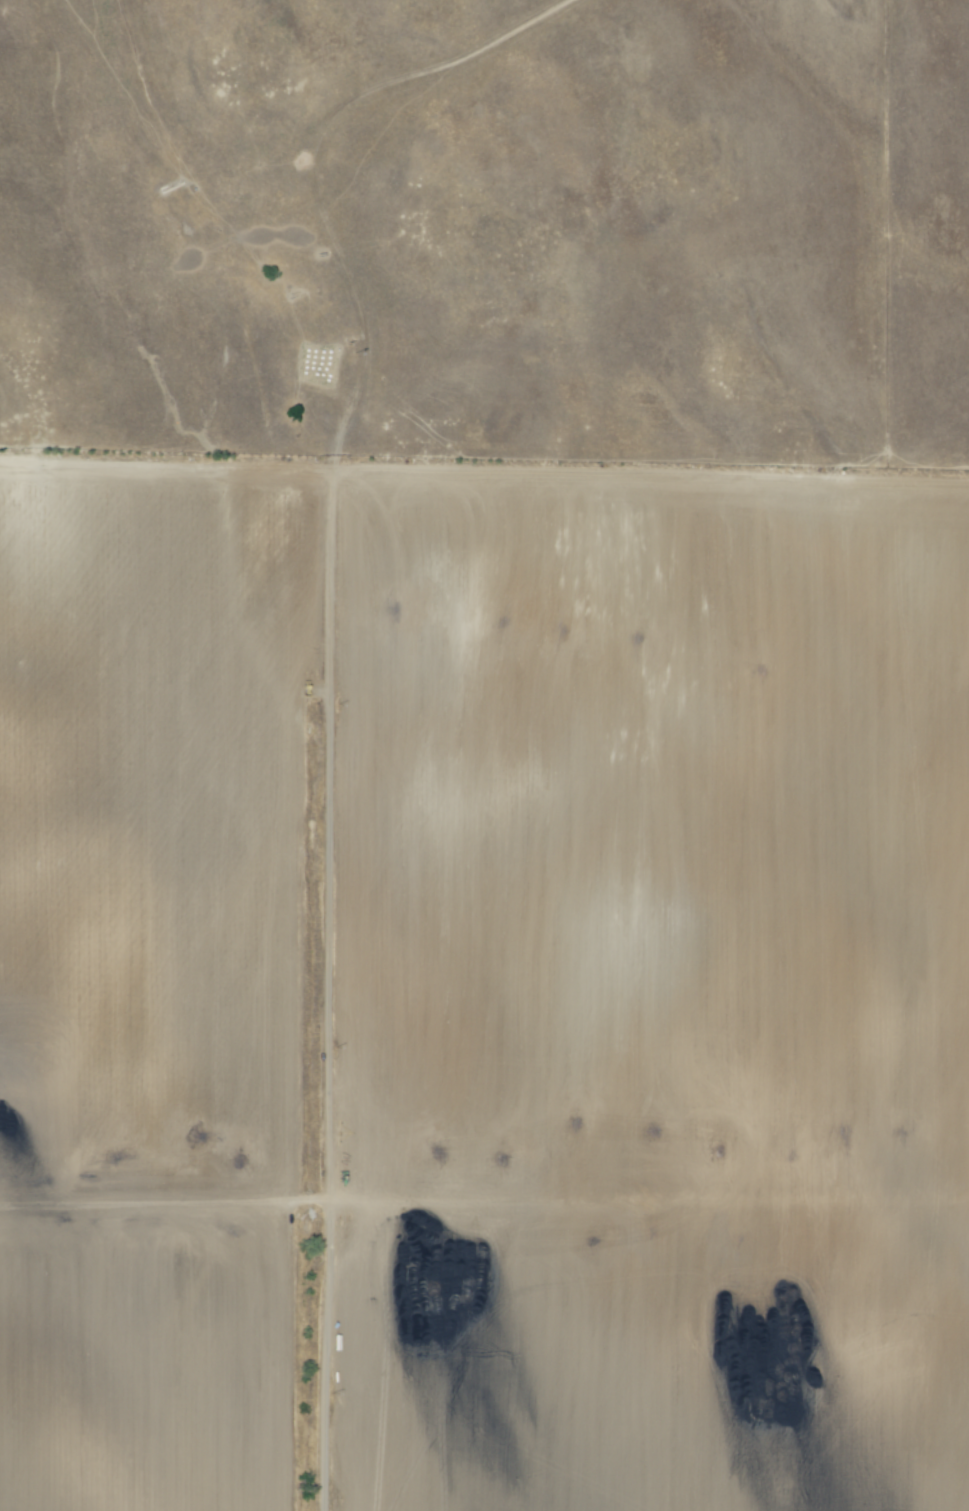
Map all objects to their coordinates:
road: (332, 996)

